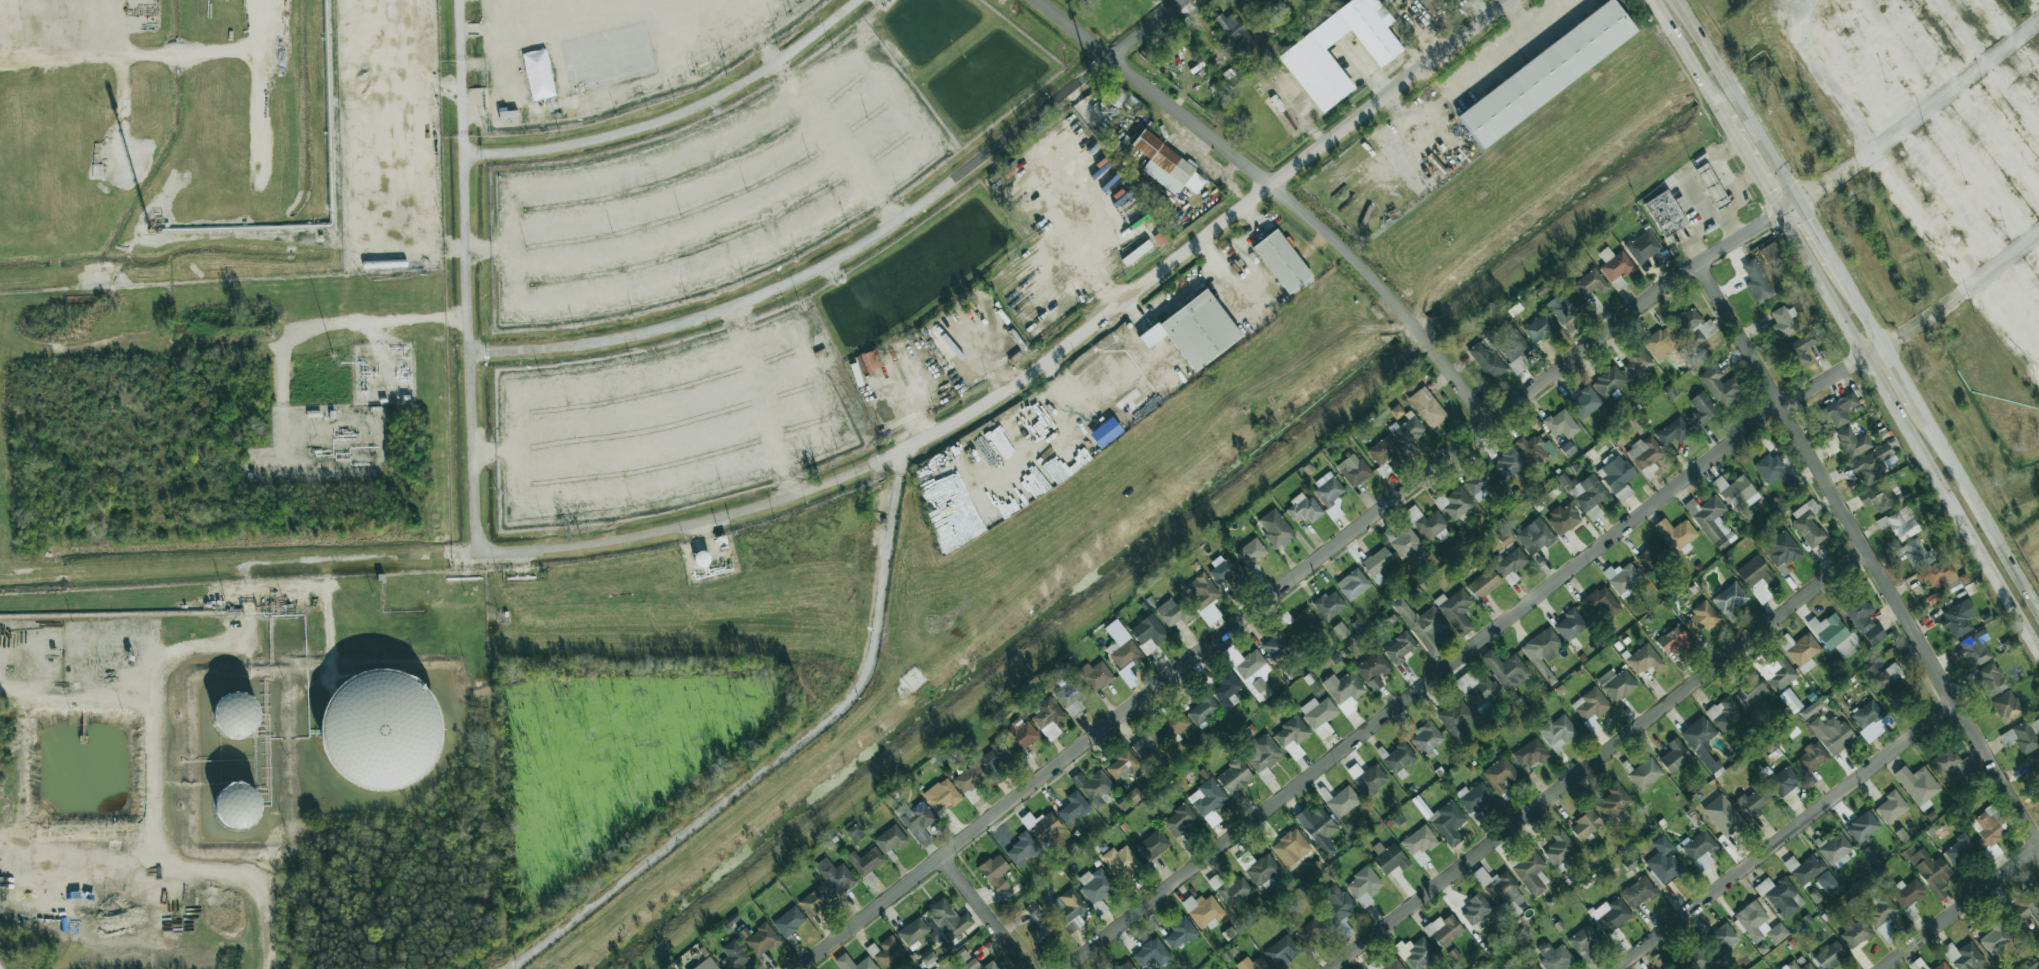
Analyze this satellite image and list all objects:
building: (1384, 1)
building: (1430, 4)
road: (1556, 16)
road: (2031, 29)
building: (1235, 32)
road: (1449, 48)
building: (609, 56)
building: (1308, 60)
road: (1484, 68)
building: (1546, 73)
building: (538, 74)
road: (1369, 76)
road: (786, 77)
road: (1825, 77)
building: (1112, 93)
road: (1395, 107)
road: (1932, 113)
road: (677, 114)
road: (832, 138)
road: (925, 139)
building: (1166, 164)
road: (709, 183)
building: (1708, 183)
road: (1283, 192)
road: (884, 203)
road: (1796, 204)
road: (1775, 207)
building: (1664, 213)
road: (722, 218)
road: (377, 225)
building: (1160, 238)
road: (2033, 240)
road: (861, 244)
building: (1643, 246)
road: (2021, 249)
road: (1206, 251)
building: (1769, 252)
building: (1281, 261)
building: (1615, 266)
road: (1087, 268)
road: (1198, 271)
road: (469, 277)
building: (1757, 281)
building: (1589, 283)
building: (1564, 306)
road: (353, 322)
building: (1782, 322)
building: (1693, 326)
building: (1540, 327)
building: (1195, 330)
building: (1661, 343)
building: (1513, 348)
building: (1801, 348)
building: (871, 360)
building: (1487, 361)
building: (1637, 362)
road: (1099, 375)
building: (1609, 381)
building: (1718, 385)
building: (1585, 402)
building: (1426, 407)
building: (1839, 409)
building: (1700, 410)
road: (973, 411)
building: (1396, 411)
building: (1561, 424)
building: (1673, 431)
building: (1105, 432)
building: (1407, 432)
building: (1852, 442)
building: (1536, 449)
building: (1382, 451)
building: (1644, 452)
building: (1874, 462)
building: (1507, 464)
building: (1353, 469)
building: (1775, 472)
building: (1617, 476)
building: (1481, 485)
building: (1328, 488)
building: (1737, 492)
building: (1587, 495)
building: (1881, 495)
building: (1455, 503)
road: (1979, 509)
building: (1564, 517)
building: (1711, 521)
building: (1807, 523)
building: (1899, 523)
building: (1428, 524)
building: (1275, 527)
road: (1969, 533)
building: (1676, 534)
building: (1535, 536)
building: (1407, 546)
building: (1782, 550)
building: (1251, 552)
road: (1869, 553)
building: (1916, 555)
building: (1651, 556)
building: (1377, 564)
building: (1511, 564)
building: (1225, 569)
building: (1754, 572)
building: (1622, 577)
road: (1293, 579)
building: (1352, 584)
building: (1483, 584)
building: (1935, 596)
building: (1204, 597)
building: (1729, 598)
building: (1600, 601)
building: (1329, 604)
building: (1456, 610)
building: (1173, 611)
building: (1702, 617)
building: (1958, 618)
building: (1863, 619)
building: (1298, 623)
building: (1570, 625)
building: (1424, 627)
building: (1340, 630)
building: (1148, 633)
road: (246, 635)
building: (1834, 635)
building: (1673, 640)
building: (1277, 644)
building: (1400, 648)
building: (1974, 648)
building: (1800, 650)
building: (1542, 651)
road: (1471, 652)
building: (1125, 654)
building: (1644, 659)
road: (161, 663)
building: (1372, 667)
building: (1506, 669)
building: (1251, 671)
building: (1776, 671)
building: (1095, 675)
building: (1991, 678)
building: (1891, 682)
building: (1616, 684)
building: (1227, 689)
building: (1750, 690)
building: (1344, 691)
building: (1478, 691)
building: (1071, 697)
building: (1790, 700)
road: (79, 702)
building: (2007, 706)
building: (1591, 707)
building: (1202, 710)
building: (236, 712)
storage tank: (236, 712)
building: (1048, 713)
building: (1725, 714)
building: (1866, 714)
building: (1319, 715)
building: (1455, 717)
building: (1173, 724)
building: (380, 730)
storage tank: (380, 730)
building: (1558, 731)
building: (1831, 733)
building: (1018, 735)
building: (1292, 735)
building: (1426, 738)
building: (1702, 743)
building: (1148, 745)
road: (786, 750)
building: (1530, 754)
building: (1675, 756)
building: (995, 757)
building: (1263, 757)
building: (1812, 757)
building: (1398, 759)
road: (1601, 759)
building: (2036, 760)
building: (1122, 765)
building: (1951, 766)
road: (31, 768)
building: (1645, 773)
building: (1500, 775)
building: (1234, 776)
building: (969, 777)
building: (1367, 778)
building: (1784, 780)
building: (1918, 786)
building: (1094, 788)
building: (942, 794)
building: (1134, 795)
building: (1473, 797)
building: (1208, 801)
building: (1342, 801)
building: (1754, 801)
building: (1614, 802)
building: (237, 805)
storage tank: (237, 805)
building: (1891, 806)
building: (1074, 807)
building: (1723, 815)
building: (1179, 819)
building: (916, 820)
building: (1448, 822)
building: (1585, 824)
building: (1990, 824)
building: (1042, 826)
building: (1862, 826)
building: (1318, 828)
building: (854, 833)
road: (1788, 835)
road: (132, 836)
building: (891, 839)
building: (1420, 843)
building: (1153, 844)
building: (1290, 847)
building: (1022, 849)
building: (1700, 849)
building: (1959, 849)
building: (1835, 850)
building: (1561, 851)
building: (1389, 858)
building: (865, 861)
building: (1121, 861)
building: (1664, 862)
building: (1804, 868)
building: (1928, 869)
building: (1262, 870)
building: (994, 872)
building: (1531, 872)
road: (234, 874)
building: (835, 875)
building: (1826, 882)
building: (1096, 884)
building: (1363, 886)
building: (1230, 889)
building: (1501, 891)
building: (1639, 892)
building: (1907, 893)
building: (1780, 896)
building: (815, 901)
building: (1336, 905)
building: (1069, 906)
building: (1475, 909)
road: (1963, 909)
building: (1203, 910)
building: (1880, 913)
road: (986, 914)
building: (1614, 915)
building: (948, 919)
building: (789, 921)
building: (1759, 924)
building: (1040, 925)
building: (1343, 929)
building: (1311, 930)
building: (1443, 930)
building: (913, 932)
building: (1180, 932)
building: (1854, 933)
building: (1722, 937)
building: (761, 939)
building: (1583, 939)
building: (1995, 939)
building: (888, 951)
building: (1281, 951)
building: (1152, 952)
building: (1419, 954)
building: (733, 955)
building: (1829, 955)
building: (1964, 955)
building: (1554, 956)
building: (929, 958)
building: (1691, 960)
building: (844, 962)
building: (1252, 963)
building: (706, 964)
building: (1392, 964)
building: (979, 965)
building: (1126, 965)
building: (1797, 965)
building: (1532, 966)
building: (1943, 966)

